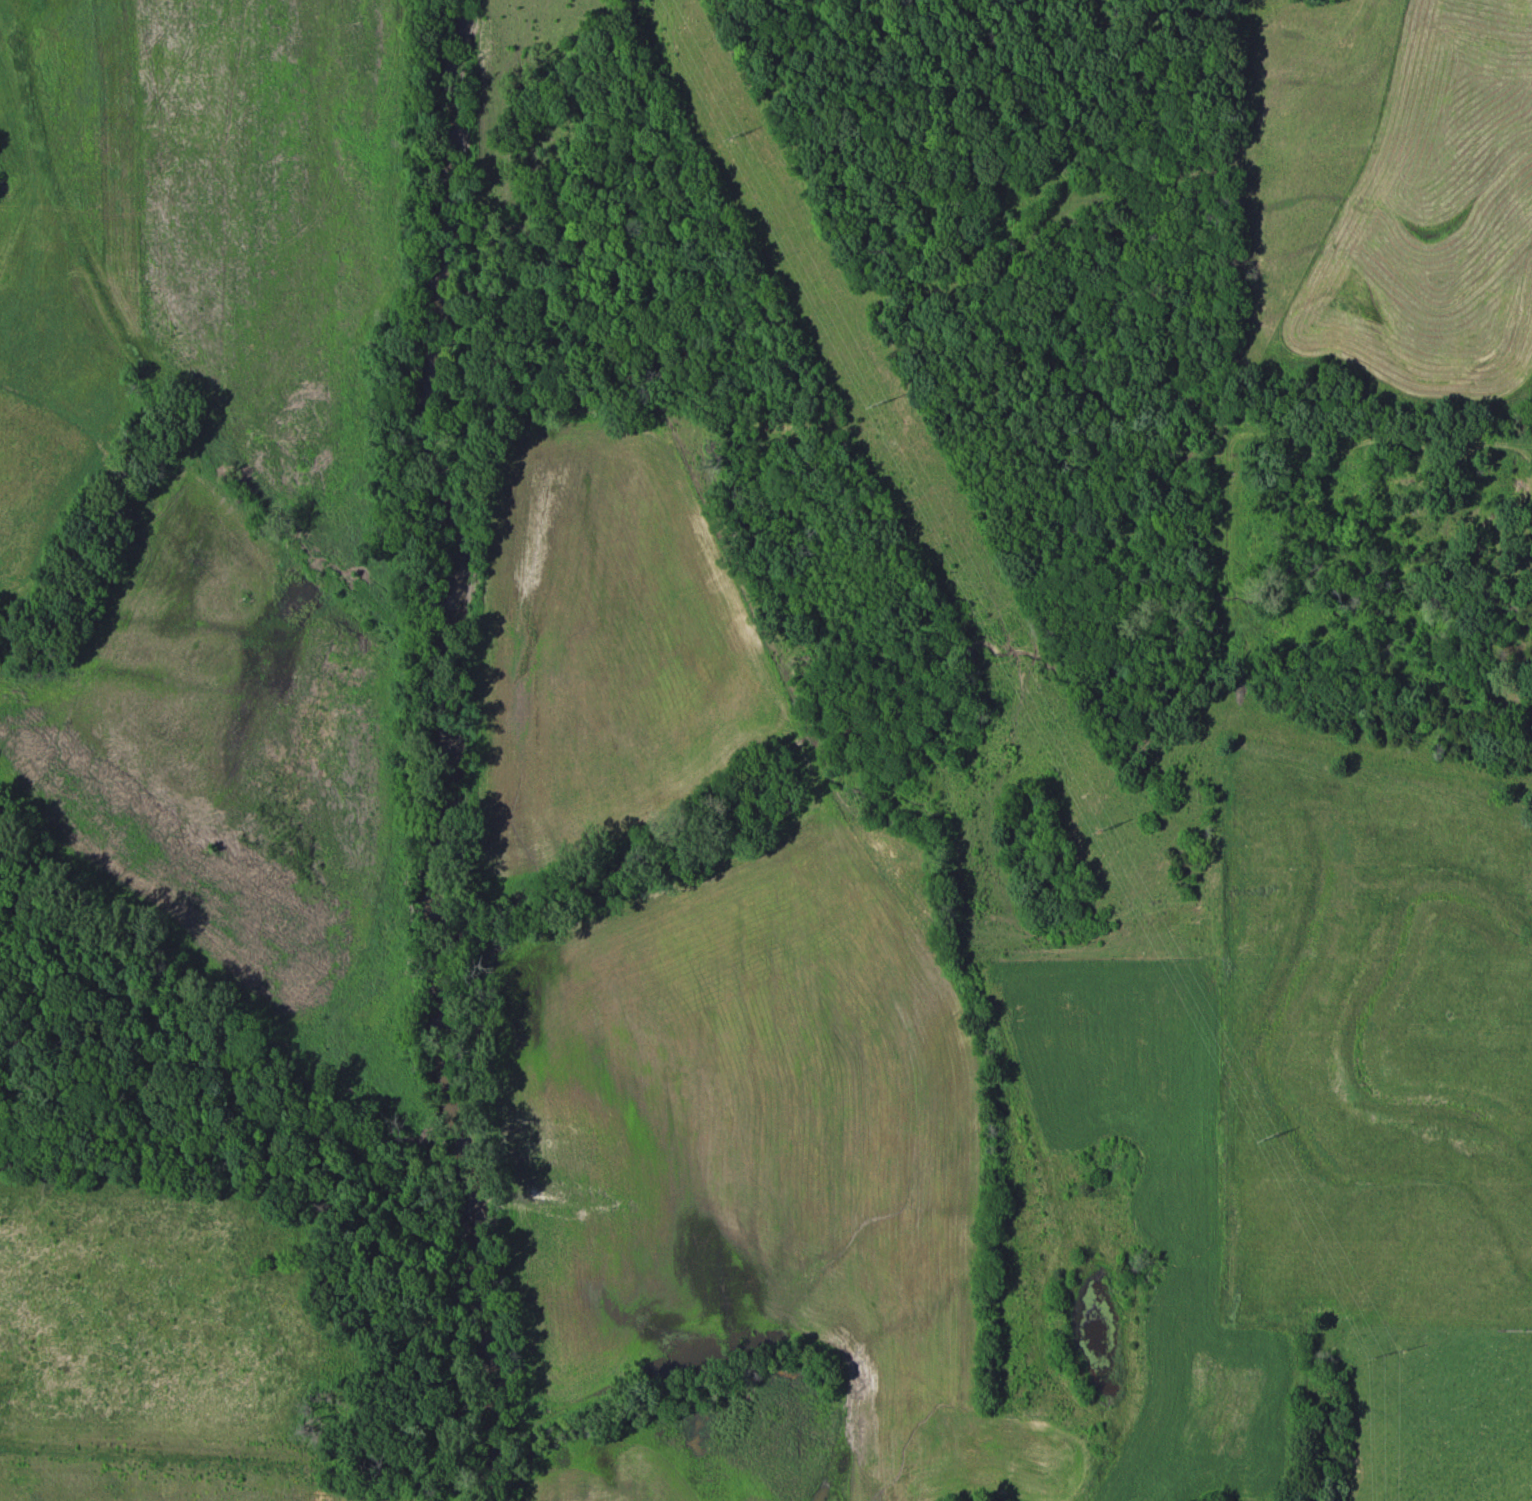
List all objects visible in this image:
power tower: (733, 134)
power tower: (879, 406)
power tower: (1102, 824)
power tower: (1272, 1146)
power tower: (1389, 1359)

